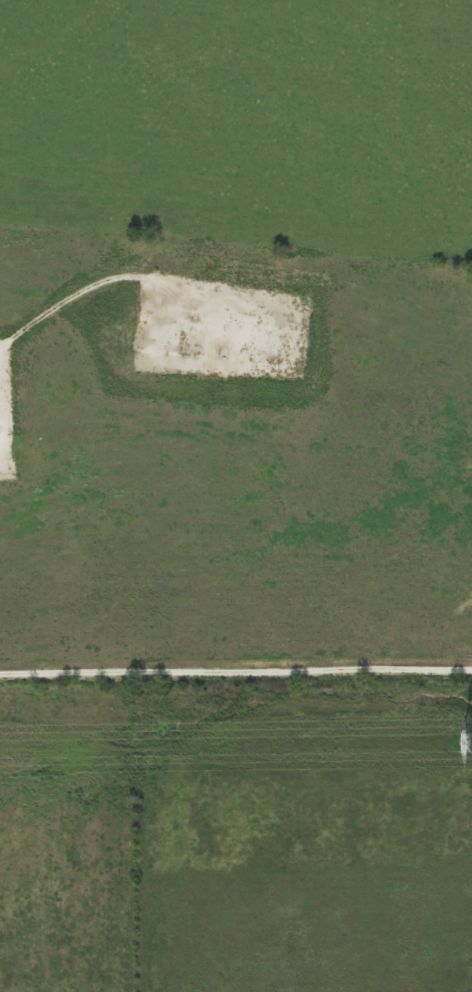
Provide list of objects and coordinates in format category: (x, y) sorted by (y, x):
road: (236, 670)
power tower: (469, 743)

